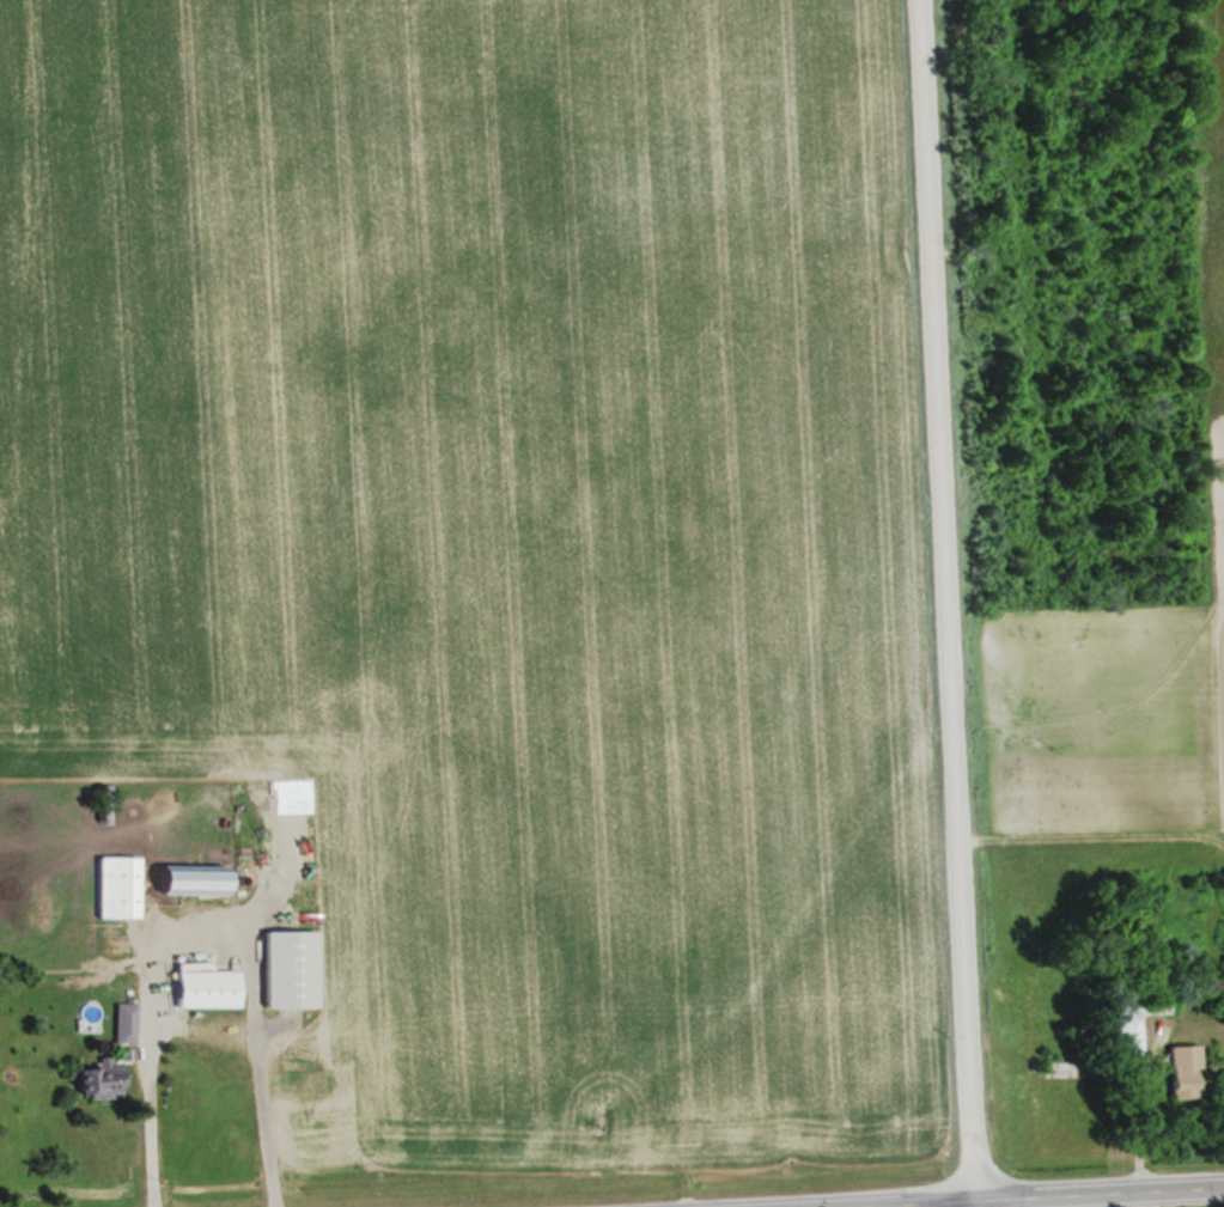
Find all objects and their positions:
road: (939, 603)
building: (194, 882)
building: (116, 885)
building: (263, 949)
building: (207, 987)
building: (1137, 1017)
building: (124, 1022)
building: (1186, 1071)
building: (105, 1083)
road: (1011, 1195)

